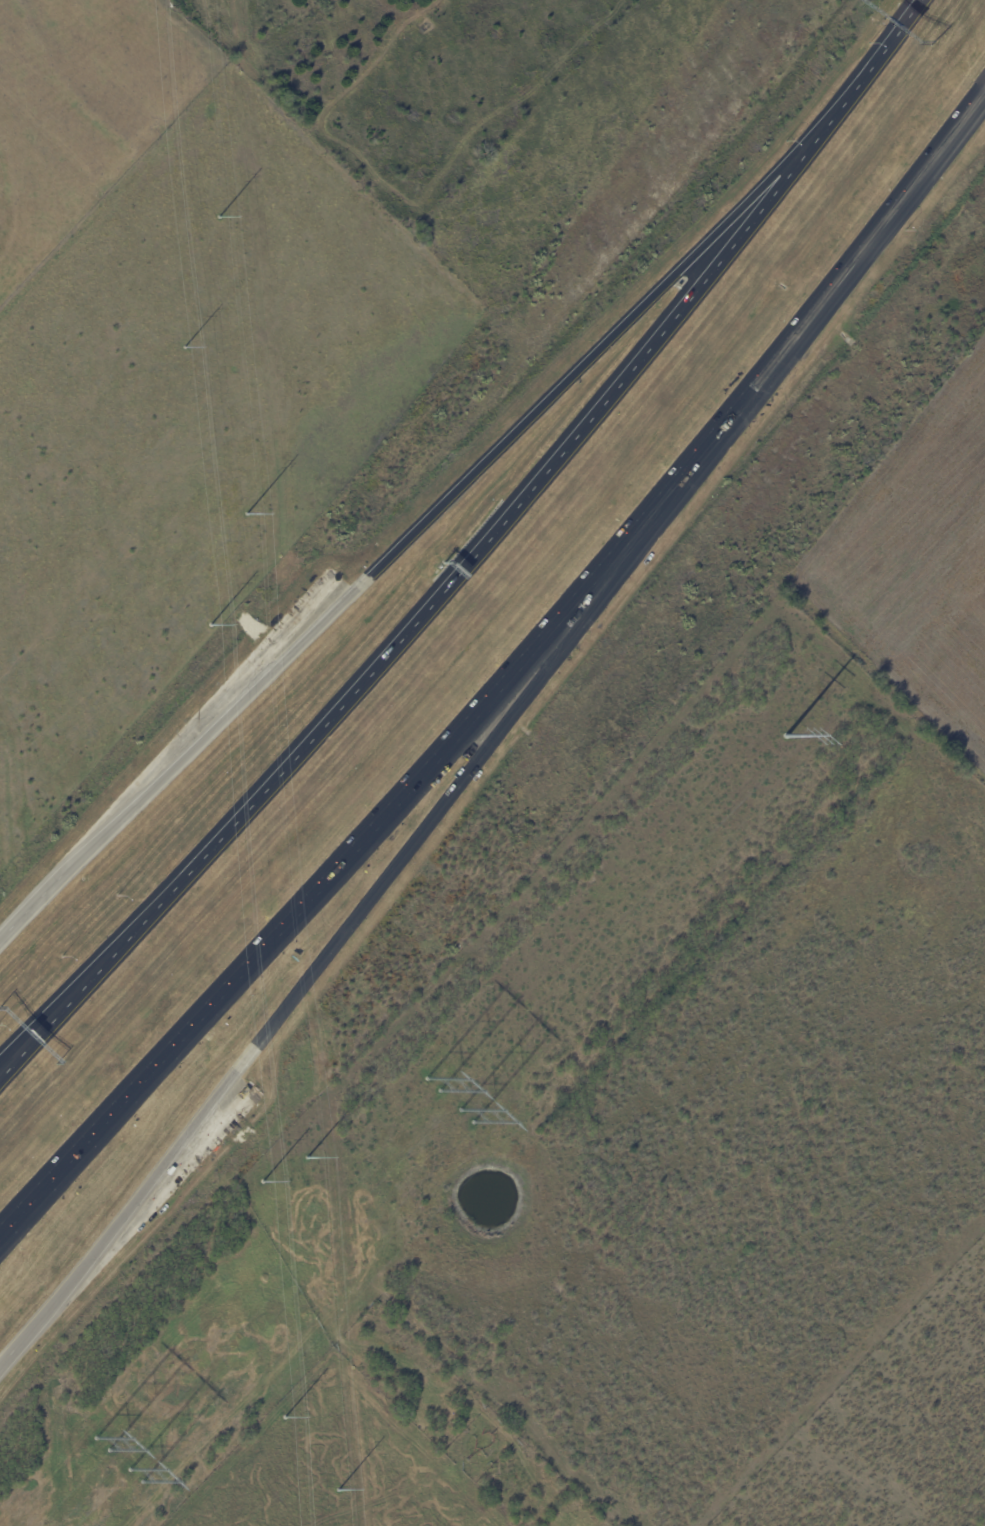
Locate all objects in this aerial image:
road: (867, 69)
road: (850, 263)
road: (658, 497)
road: (406, 537)
road: (423, 616)
parking lot: (253, 662)
power tower: (783, 736)
road: (305, 900)
road: (362, 906)
road: (0, 1069)
road: (0, 1069)
power tower: (439, 1104)
power tower: (103, 1470)

